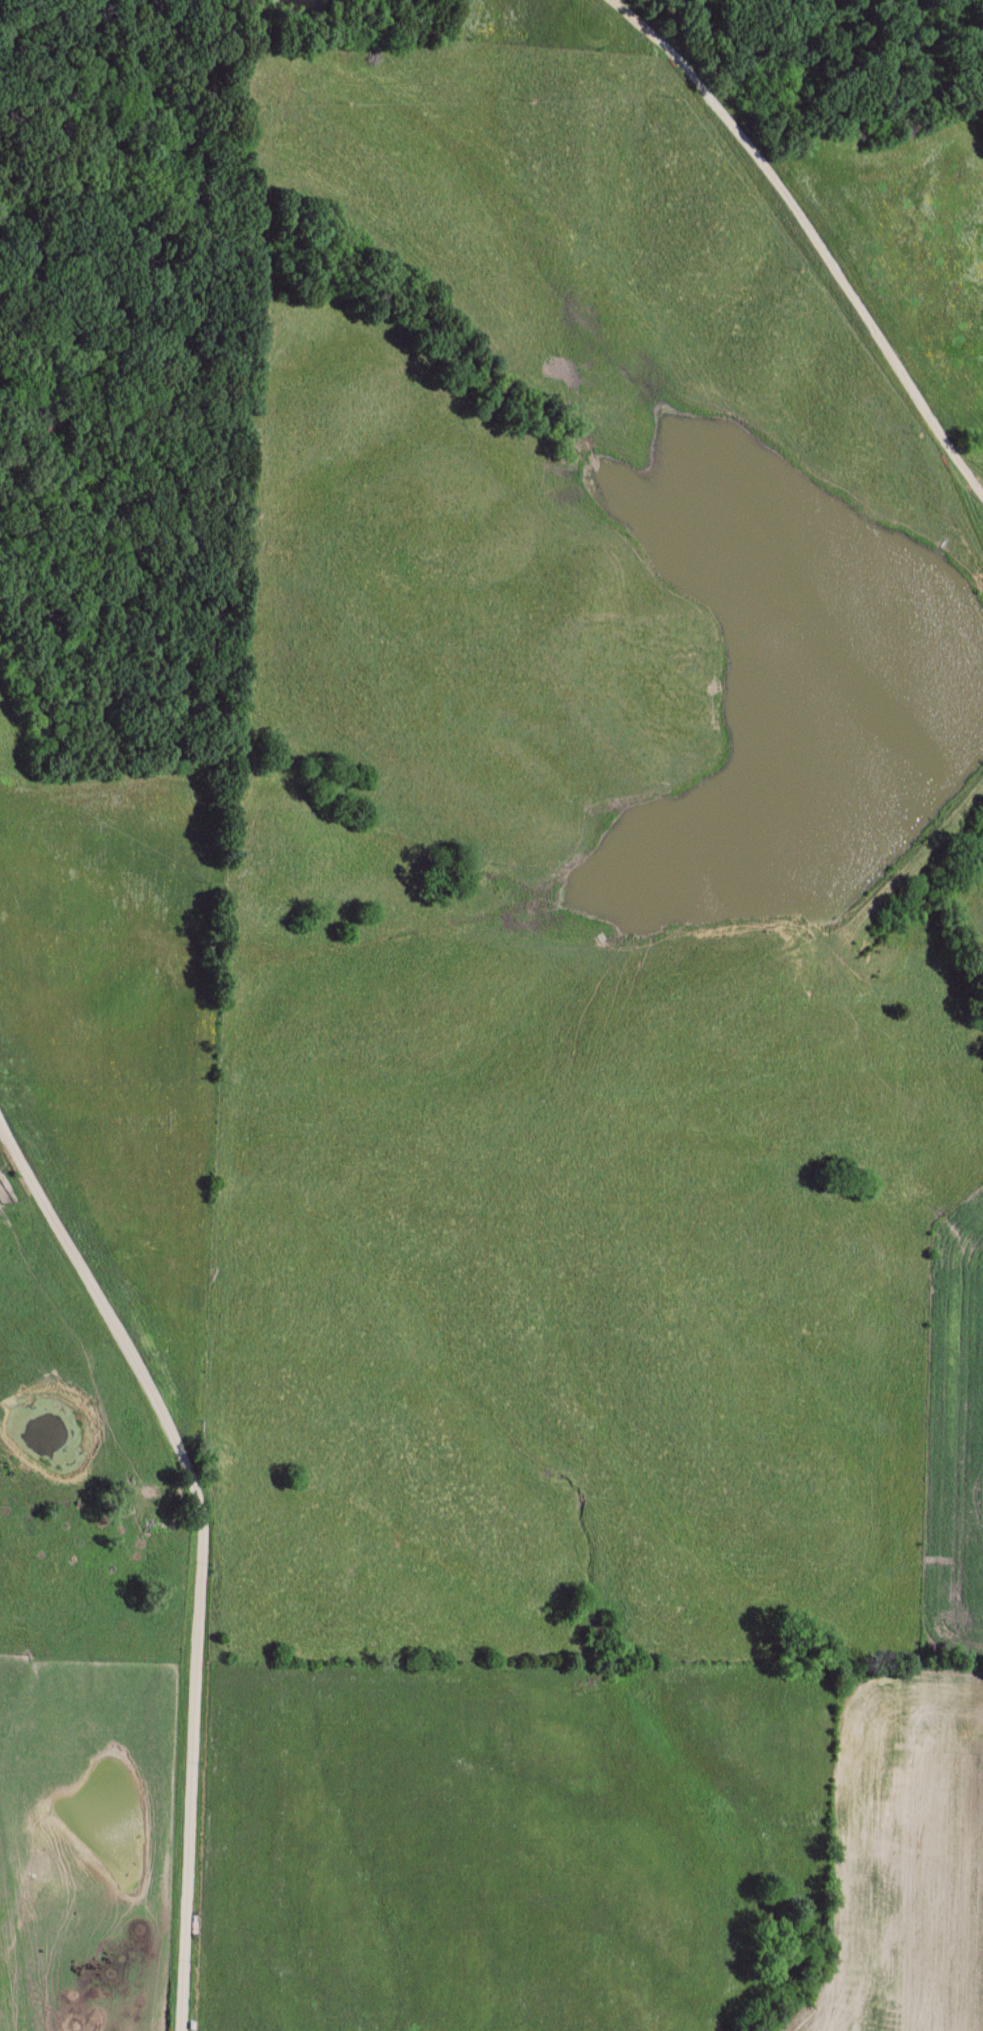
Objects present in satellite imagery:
road: (810, 237)
road: (205, 1550)

